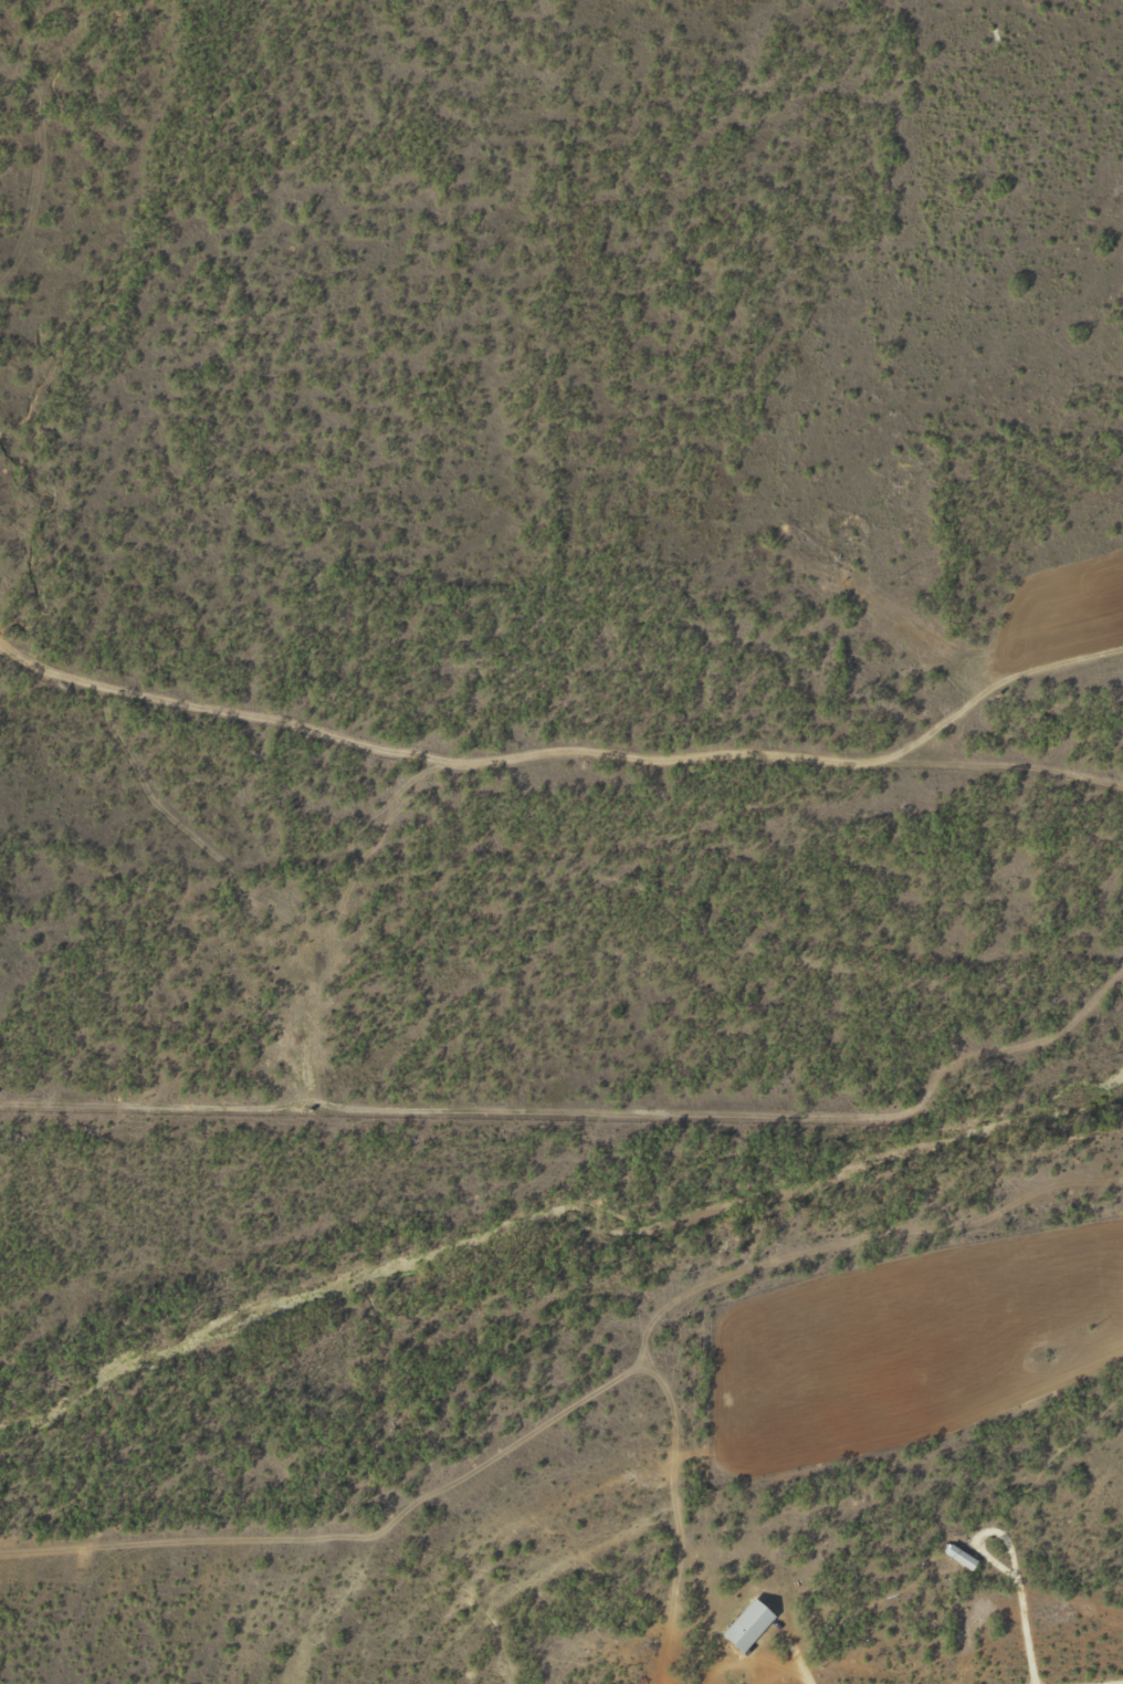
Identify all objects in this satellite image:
building: (955, 1557)
building: (742, 1625)
road: (1120, 1683)

